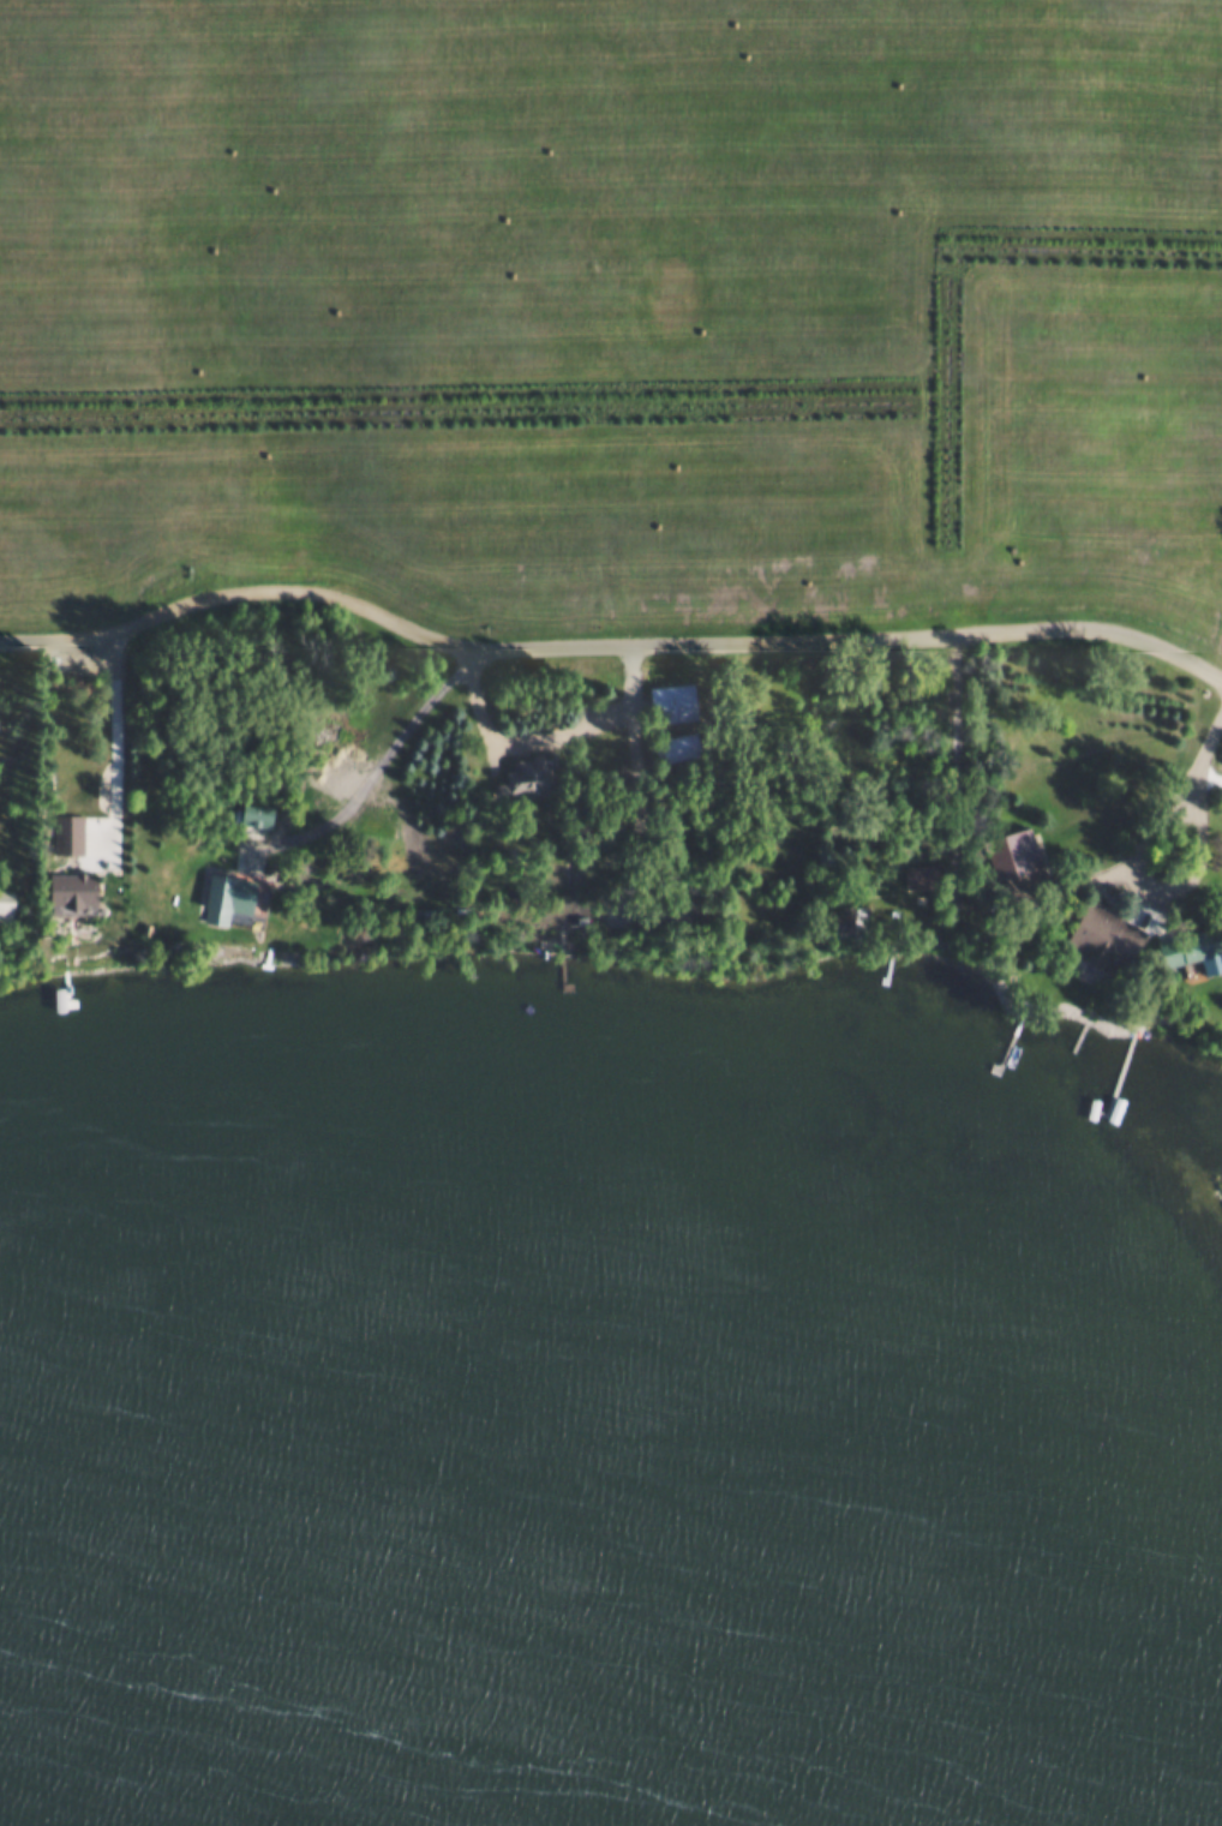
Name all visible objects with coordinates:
road: (606, 651)
building: (661, 702)
building: (313, 735)
building: (333, 742)
building: (664, 746)
road: (1208, 748)
road: (391, 752)
road: (113, 754)
building: (513, 776)
building: (248, 809)
building: (1007, 850)
building: (918, 872)
road: (1166, 884)
building: (58, 888)
building: (218, 892)
building: (0, 899)
building: (831, 916)
building: (1100, 935)
building: (1190, 945)

